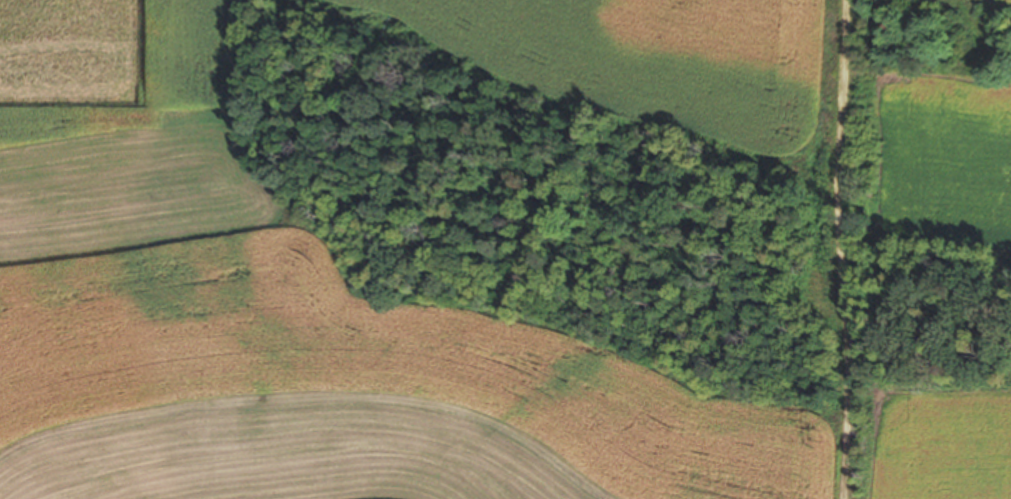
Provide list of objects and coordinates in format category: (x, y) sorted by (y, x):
road: (847, 249)

